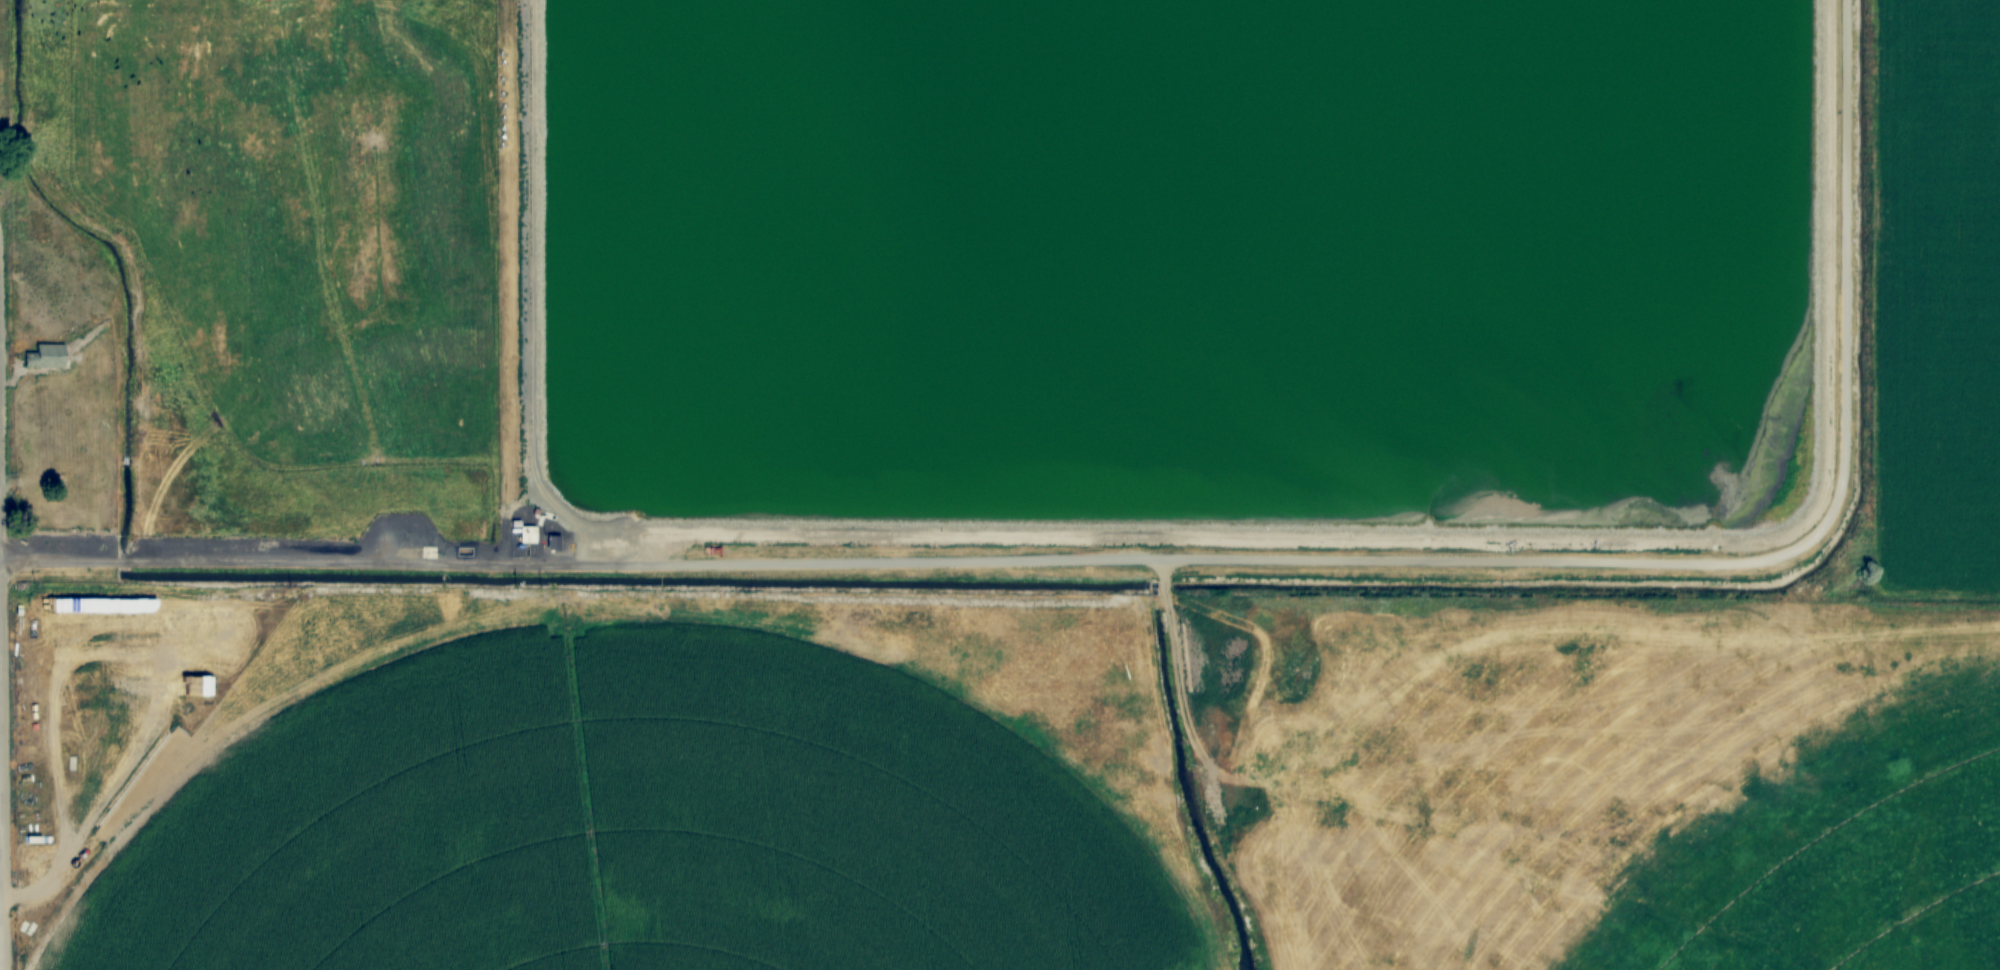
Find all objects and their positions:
wastewater plant: (1182, 278)
building: (47, 357)
building: (83, 481)
building: (529, 534)
building: (555, 542)
road: (1183, 561)
crop: (1839, 858)

